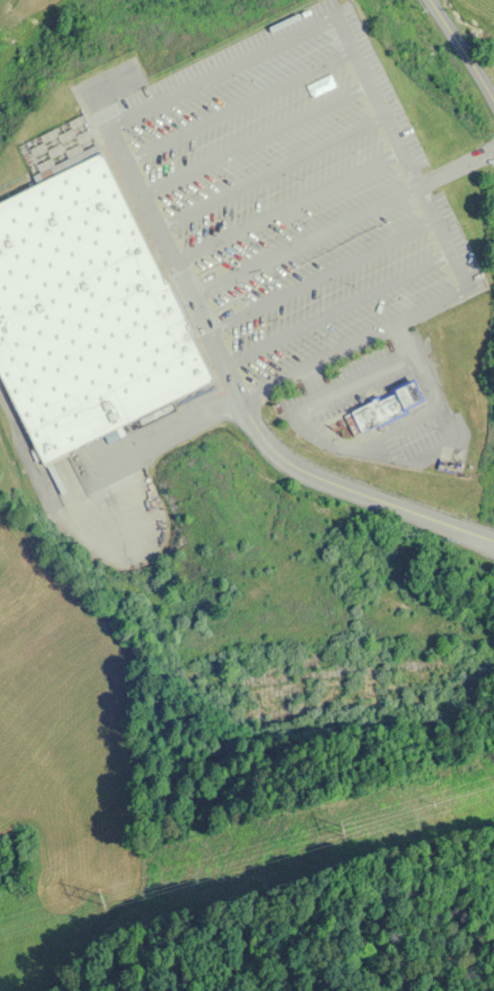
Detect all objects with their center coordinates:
road: (465, 50)
road: (220, 71)
road: (238, 105)
road: (254, 139)
road: (270, 172)
road: (286, 206)
road: (340, 220)
road: (320, 275)
road: (336, 310)
building: (85, 312)
road: (353, 345)
building: (386, 408)
road: (172, 429)
road: (382, 437)
road: (26, 453)
road: (353, 490)
road: (109, 530)
power tower: (343, 830)
power tower: (98, 901)

